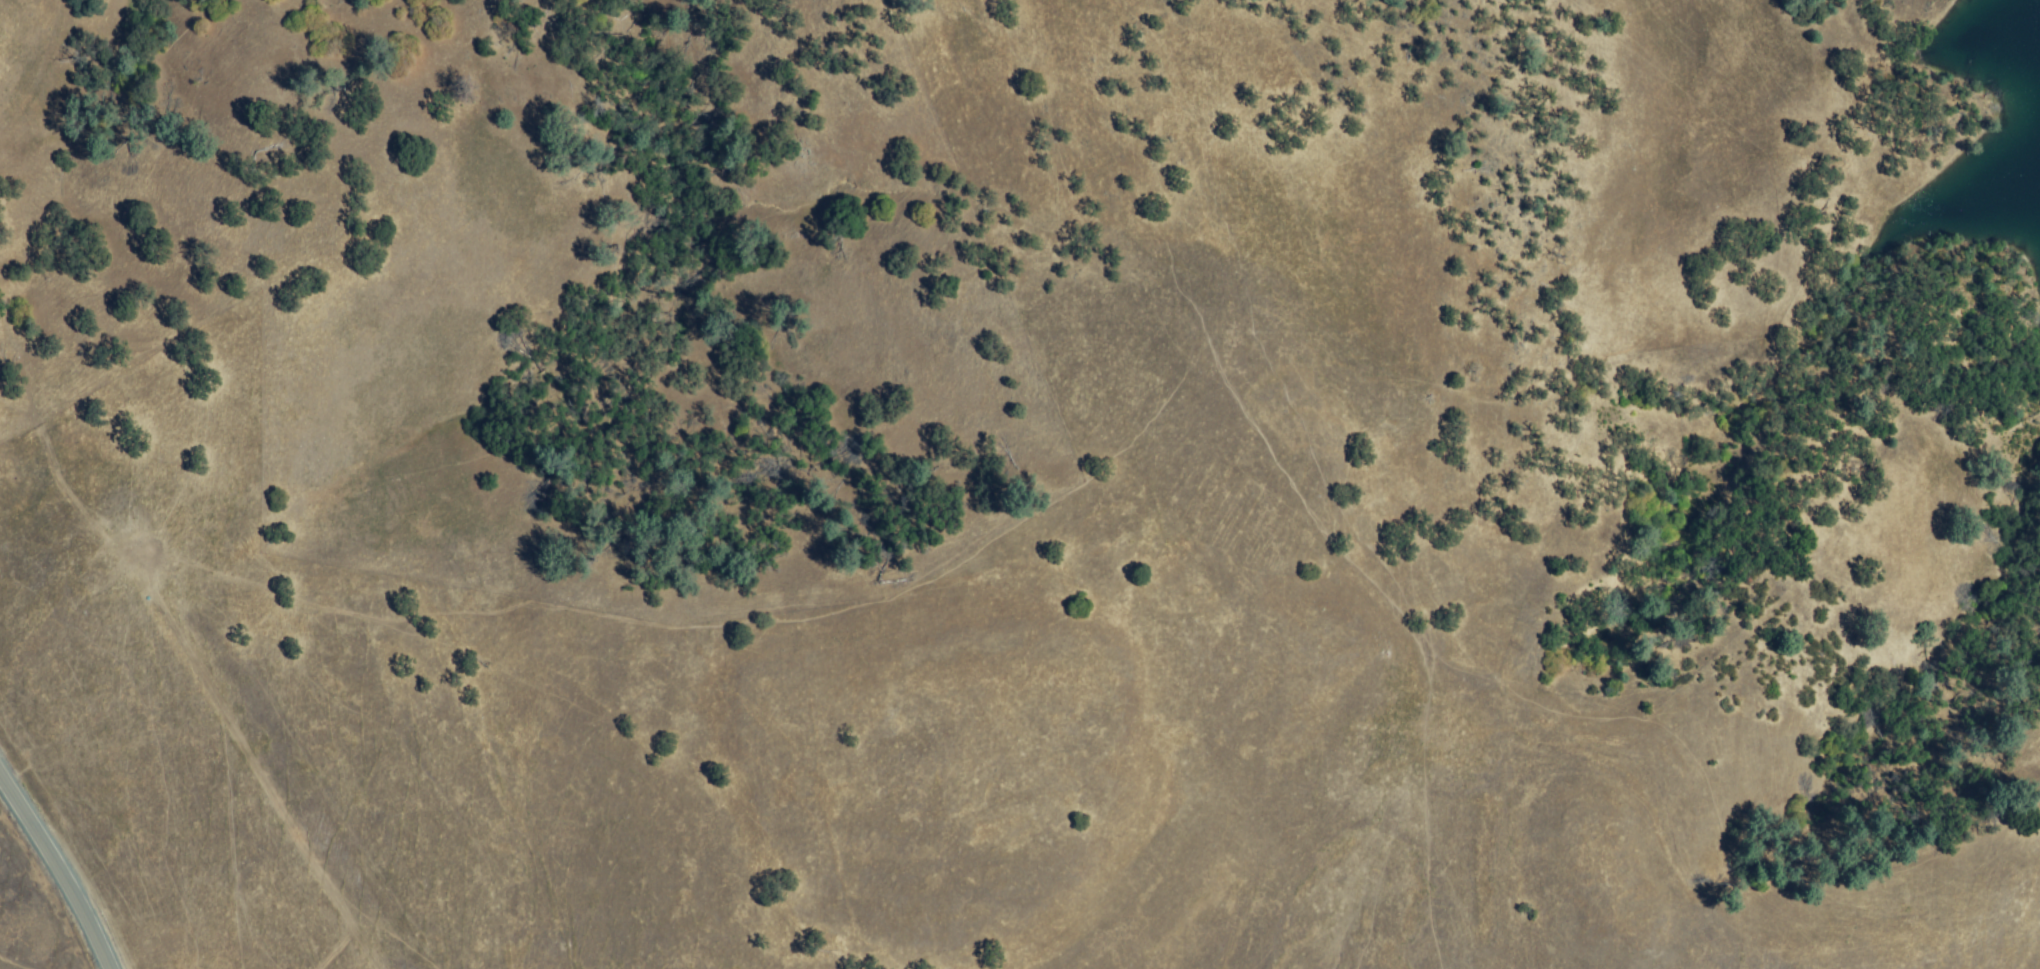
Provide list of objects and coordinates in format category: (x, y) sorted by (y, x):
airport: (252, 728)
airport runway: (258, 757)
road: (59, 869)

